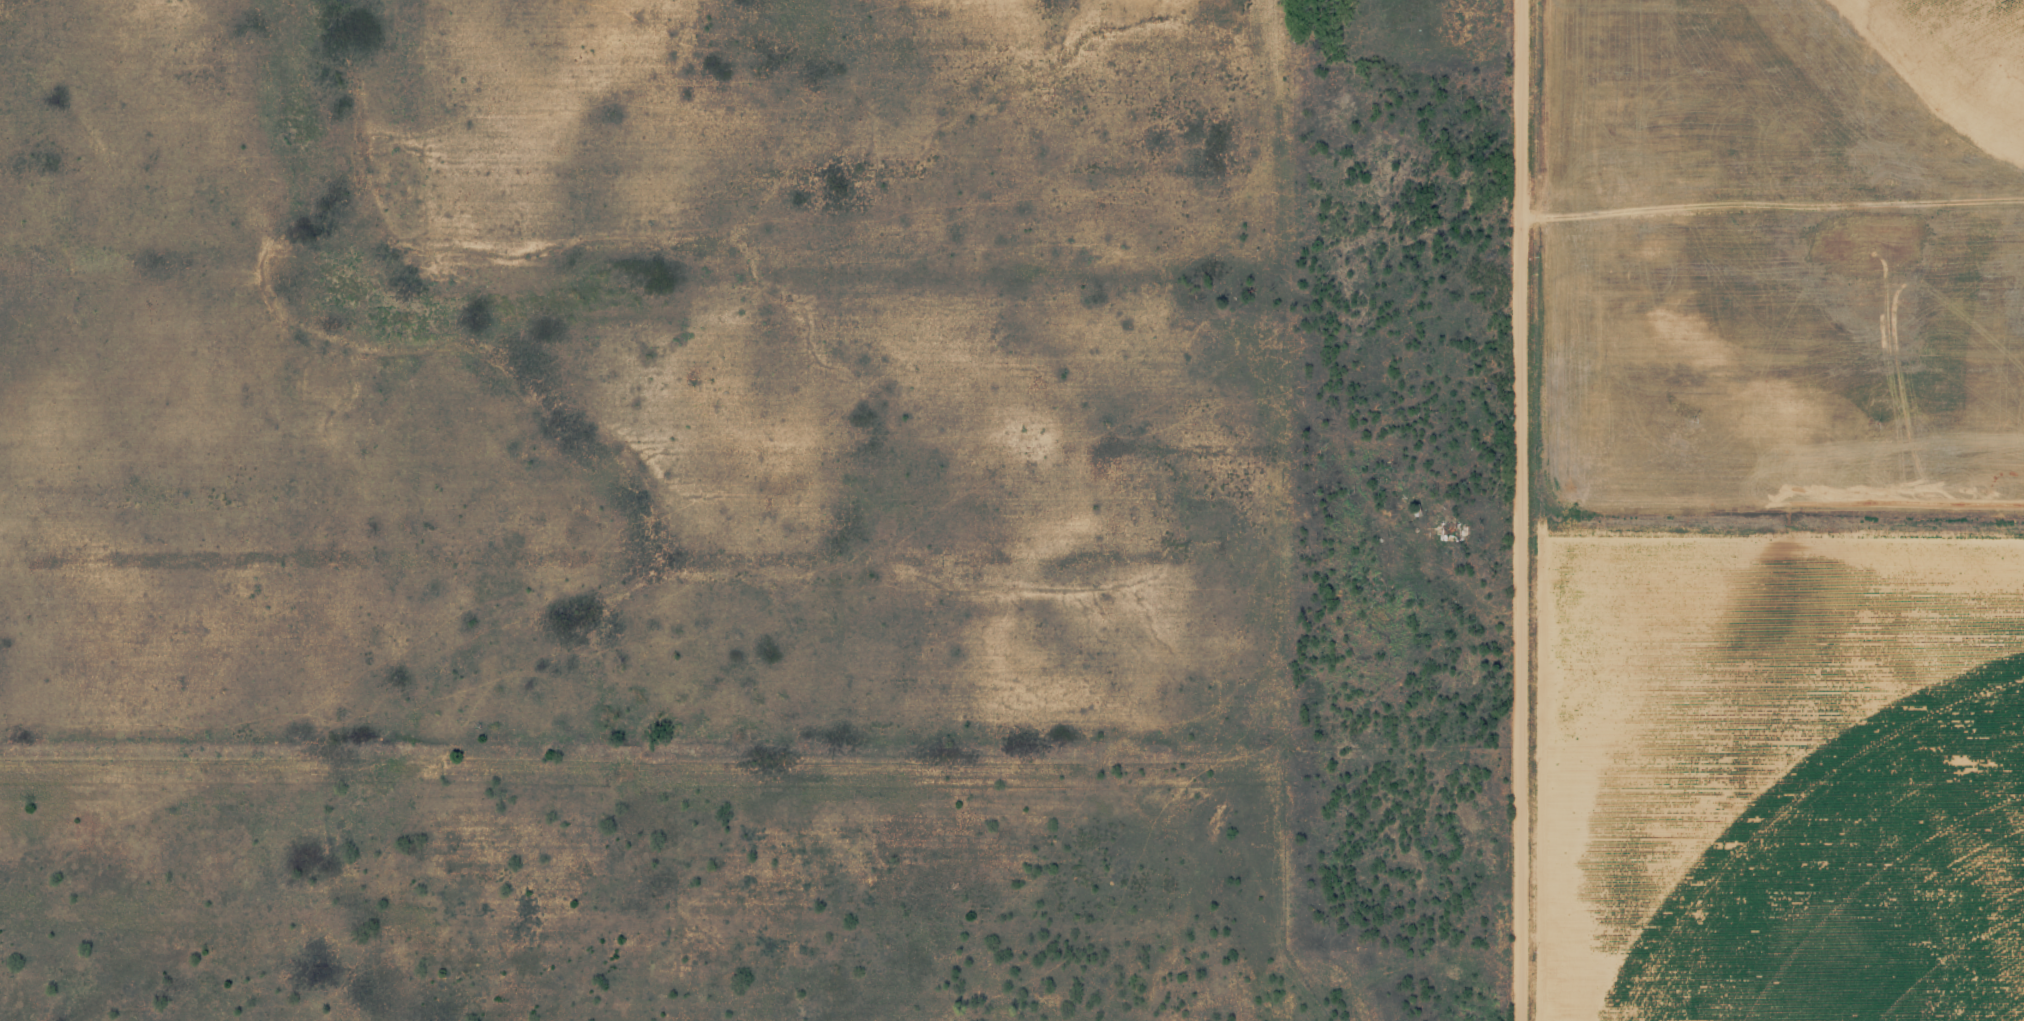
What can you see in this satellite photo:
road: (1522, 510)
building: (1451, 531)

